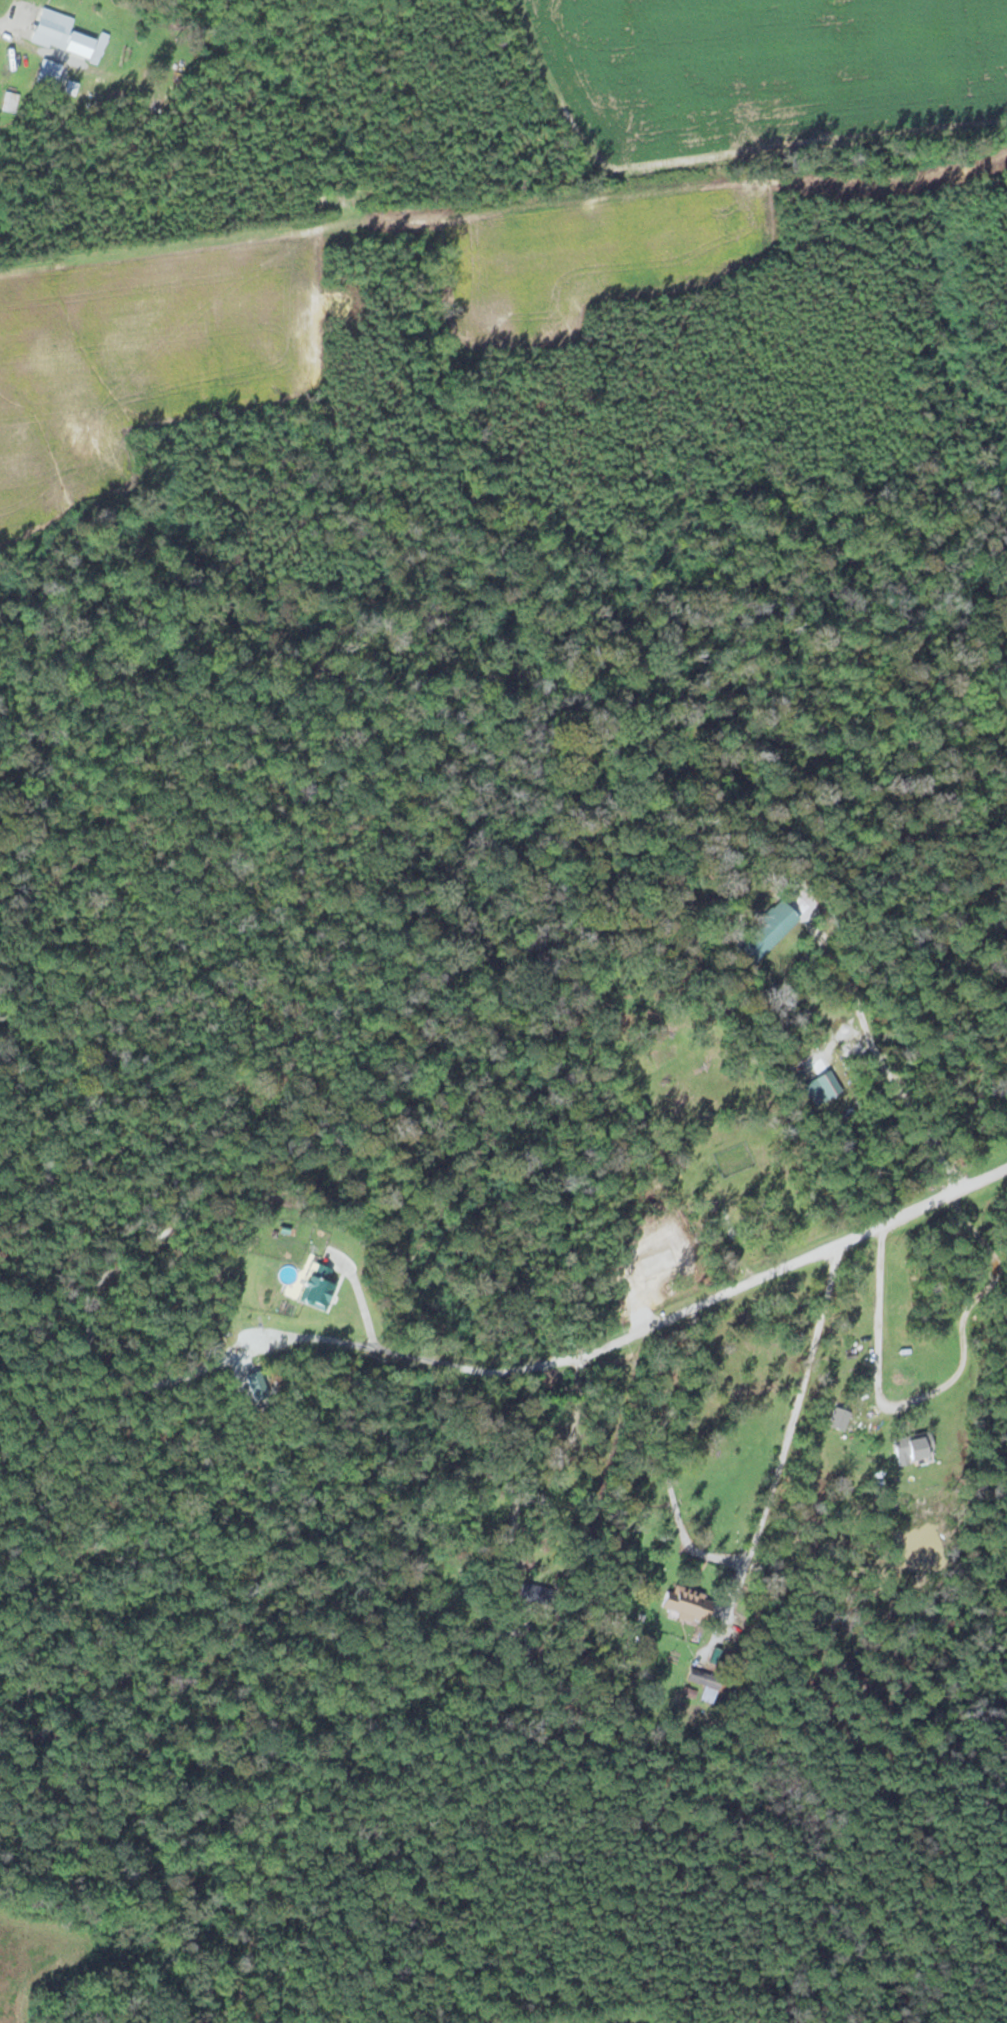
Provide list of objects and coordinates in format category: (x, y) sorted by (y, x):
building: (51, 28)
building: (48, 73)
building: (10, 100)
building: (765, 931)
building: (660, 1056)
building: (828, 1083)
building: (685, 1177)
building: (315, 1285)
road: (649, 1326)
road: (247, 1337)
building: (838, 1419)
building: (912, 1447)
building: (685, 1602)
building: (703, 1679)
road: (624, 2021)

